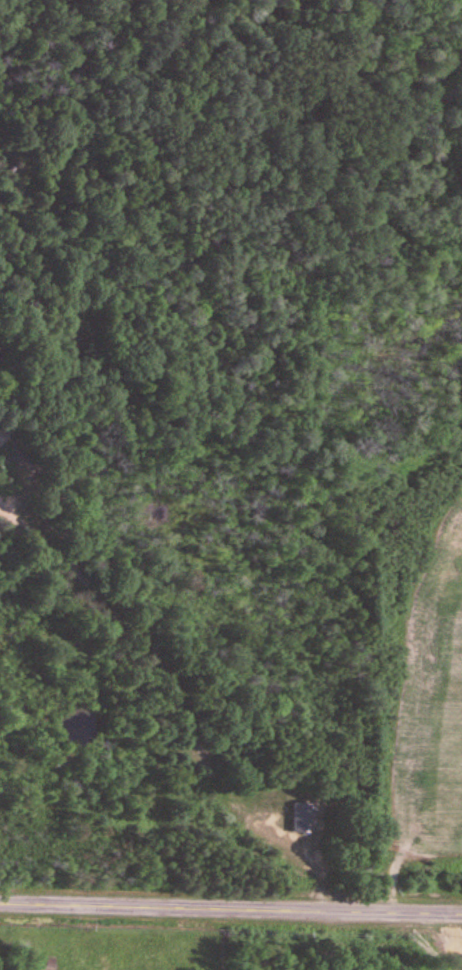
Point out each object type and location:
building: (303, 819)
road: (231, 909)

